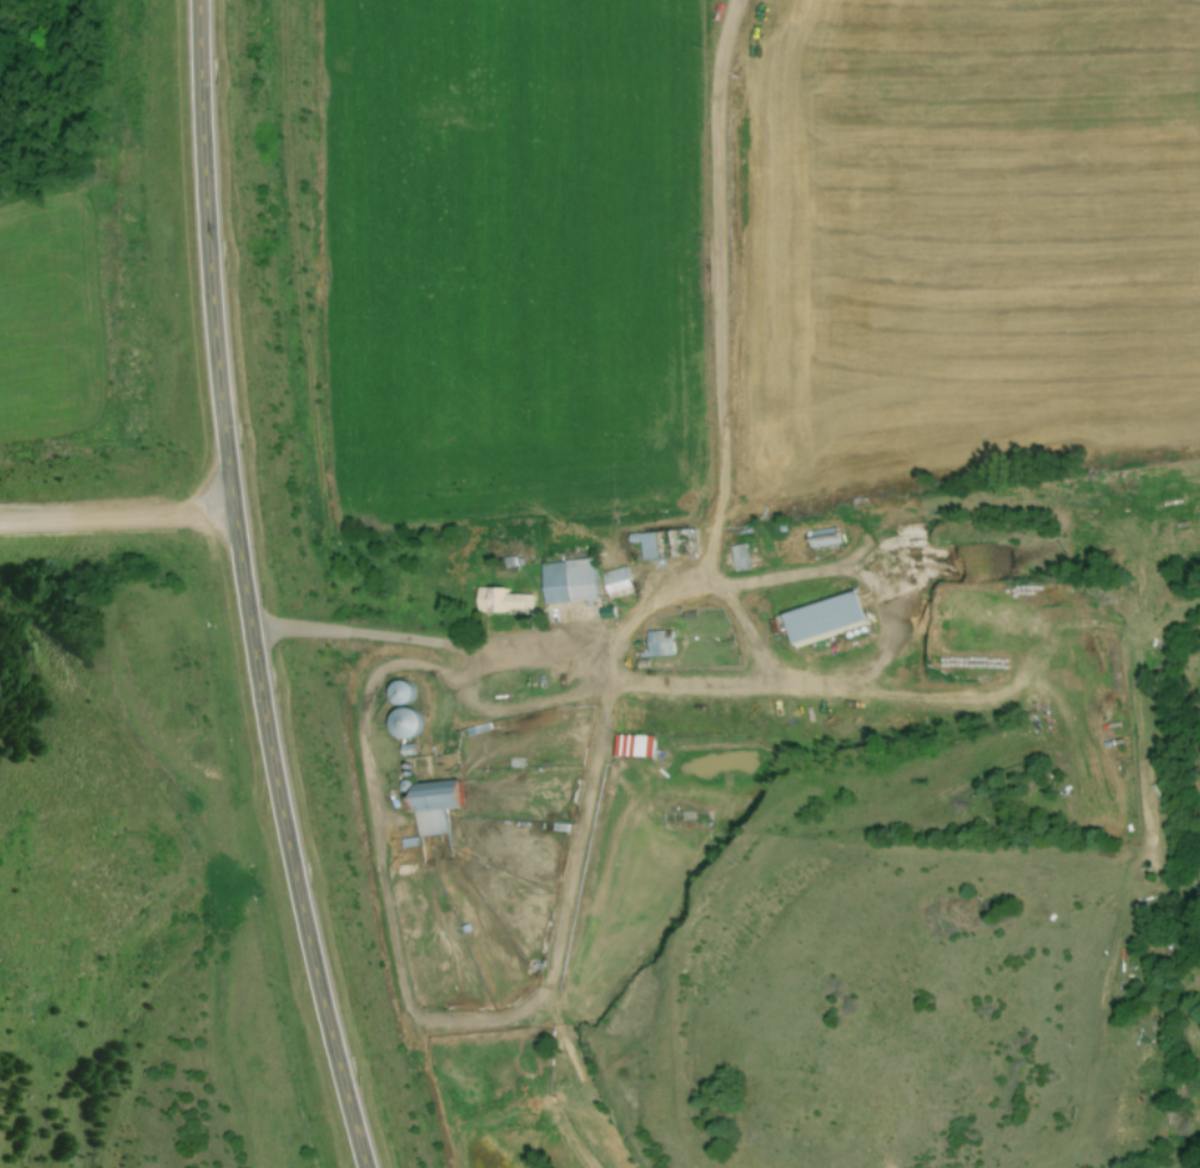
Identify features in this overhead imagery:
road: (117, 514)
building: (664, 543)
building: (565, 580)
building: (616, 582)
road: (245, 589)
building: (493, 599)
building: (819, 617)
road: (417, 639)
building: (658, 642)
building: (396, 692)
building: (398, 722)
building: (431, 807)
building: (683, 817)

